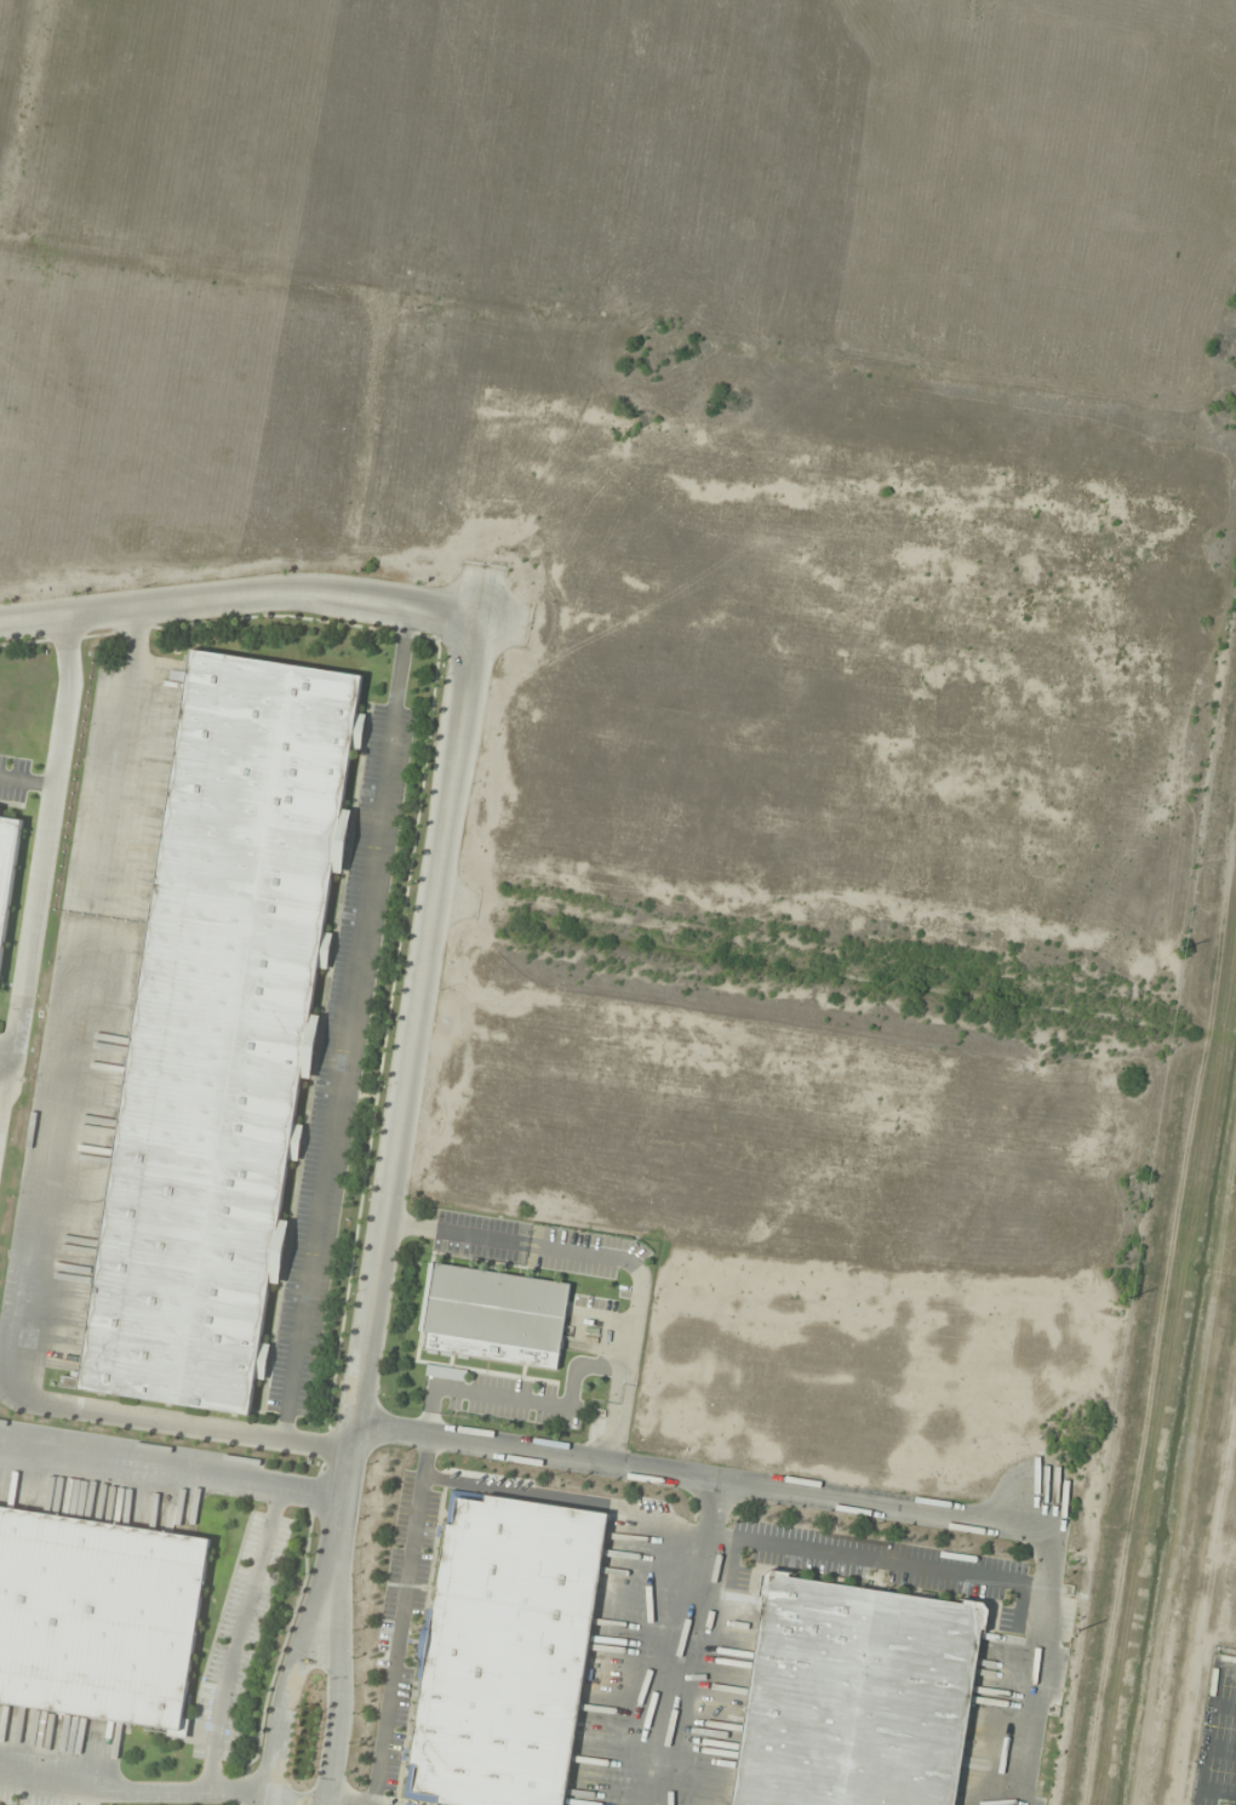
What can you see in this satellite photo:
road: (240, 599)
road: (40, 862)
building: (6, 873)
building: (223, 1027)
road: (414, 1056)
building: (493, 1316)
building: (445, 1373)
road: (173, 1470)
road: (696, 1479)
building: (98, 1616)
road: (1041, 1626)
road: (234, 1638)
building: (504, 1653)
road: (299, 1669)
road: (343, 1670)
building: (854, 1696)
road: (176, 1792)

